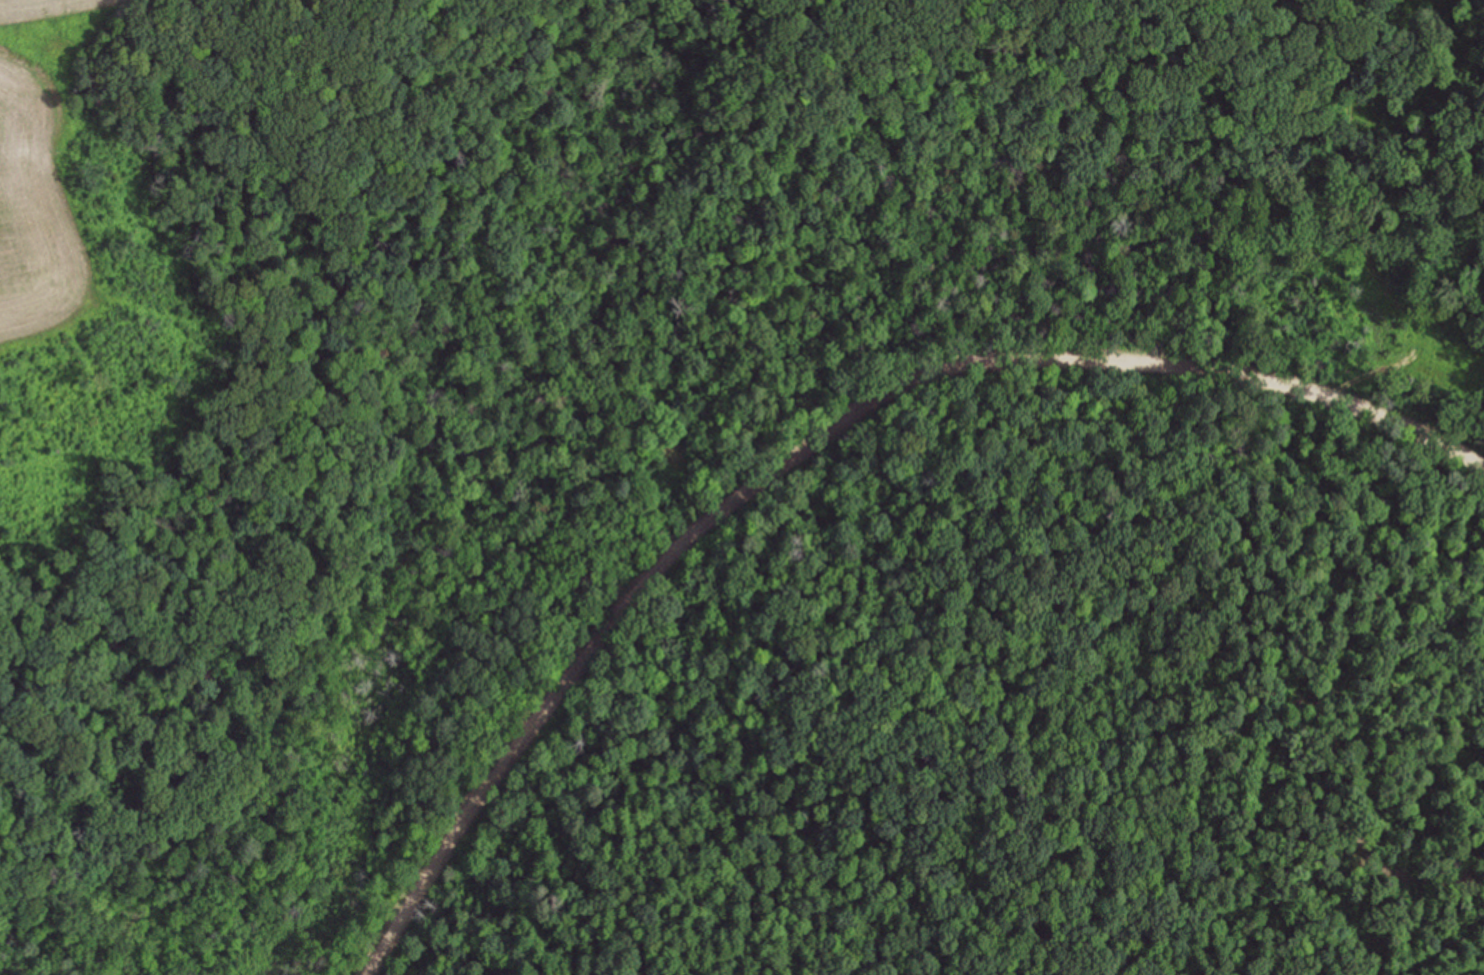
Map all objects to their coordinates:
crop: (70, 177)
road: (815, 438)

